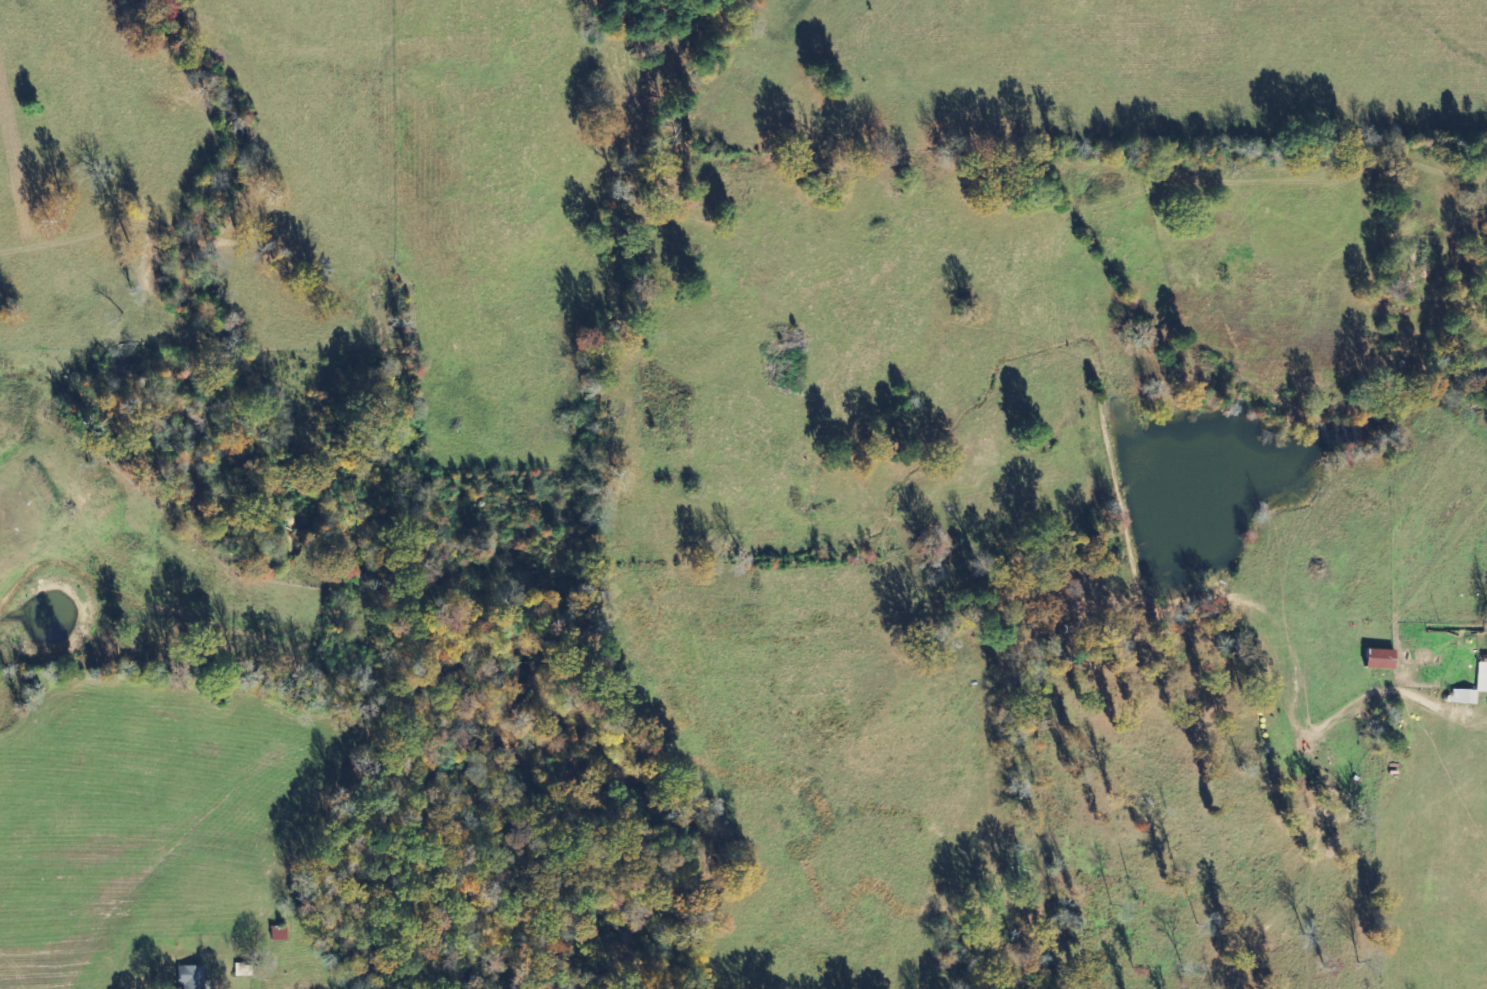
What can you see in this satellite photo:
building: (1374, 660)
building: (1480, 676)
building: (1461, 697)
building: (195, 977)

